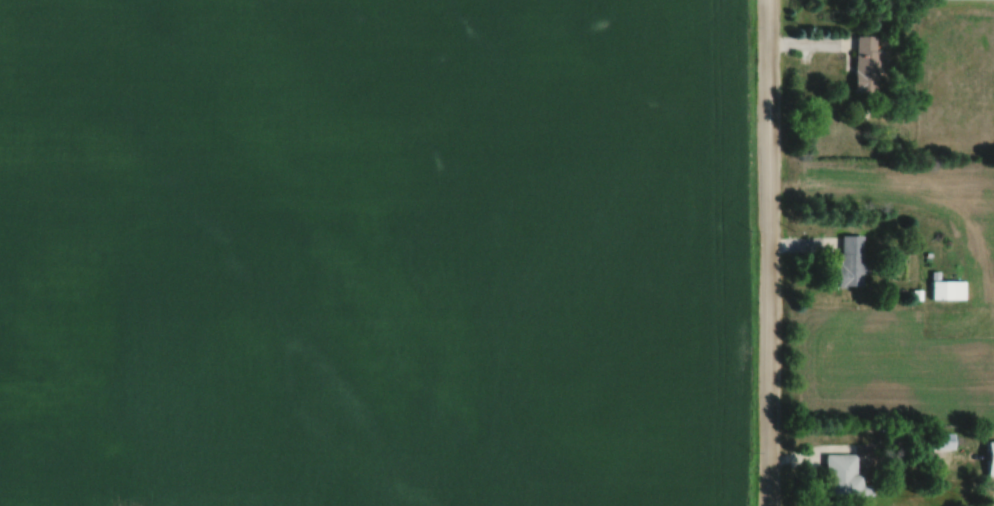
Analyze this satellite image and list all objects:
building: (864, 64)
road: (770, 253)
building: (850, 261)
building: (947, 290)
building: (943, 441)
building: (989, 459)
building: (845, 476)

